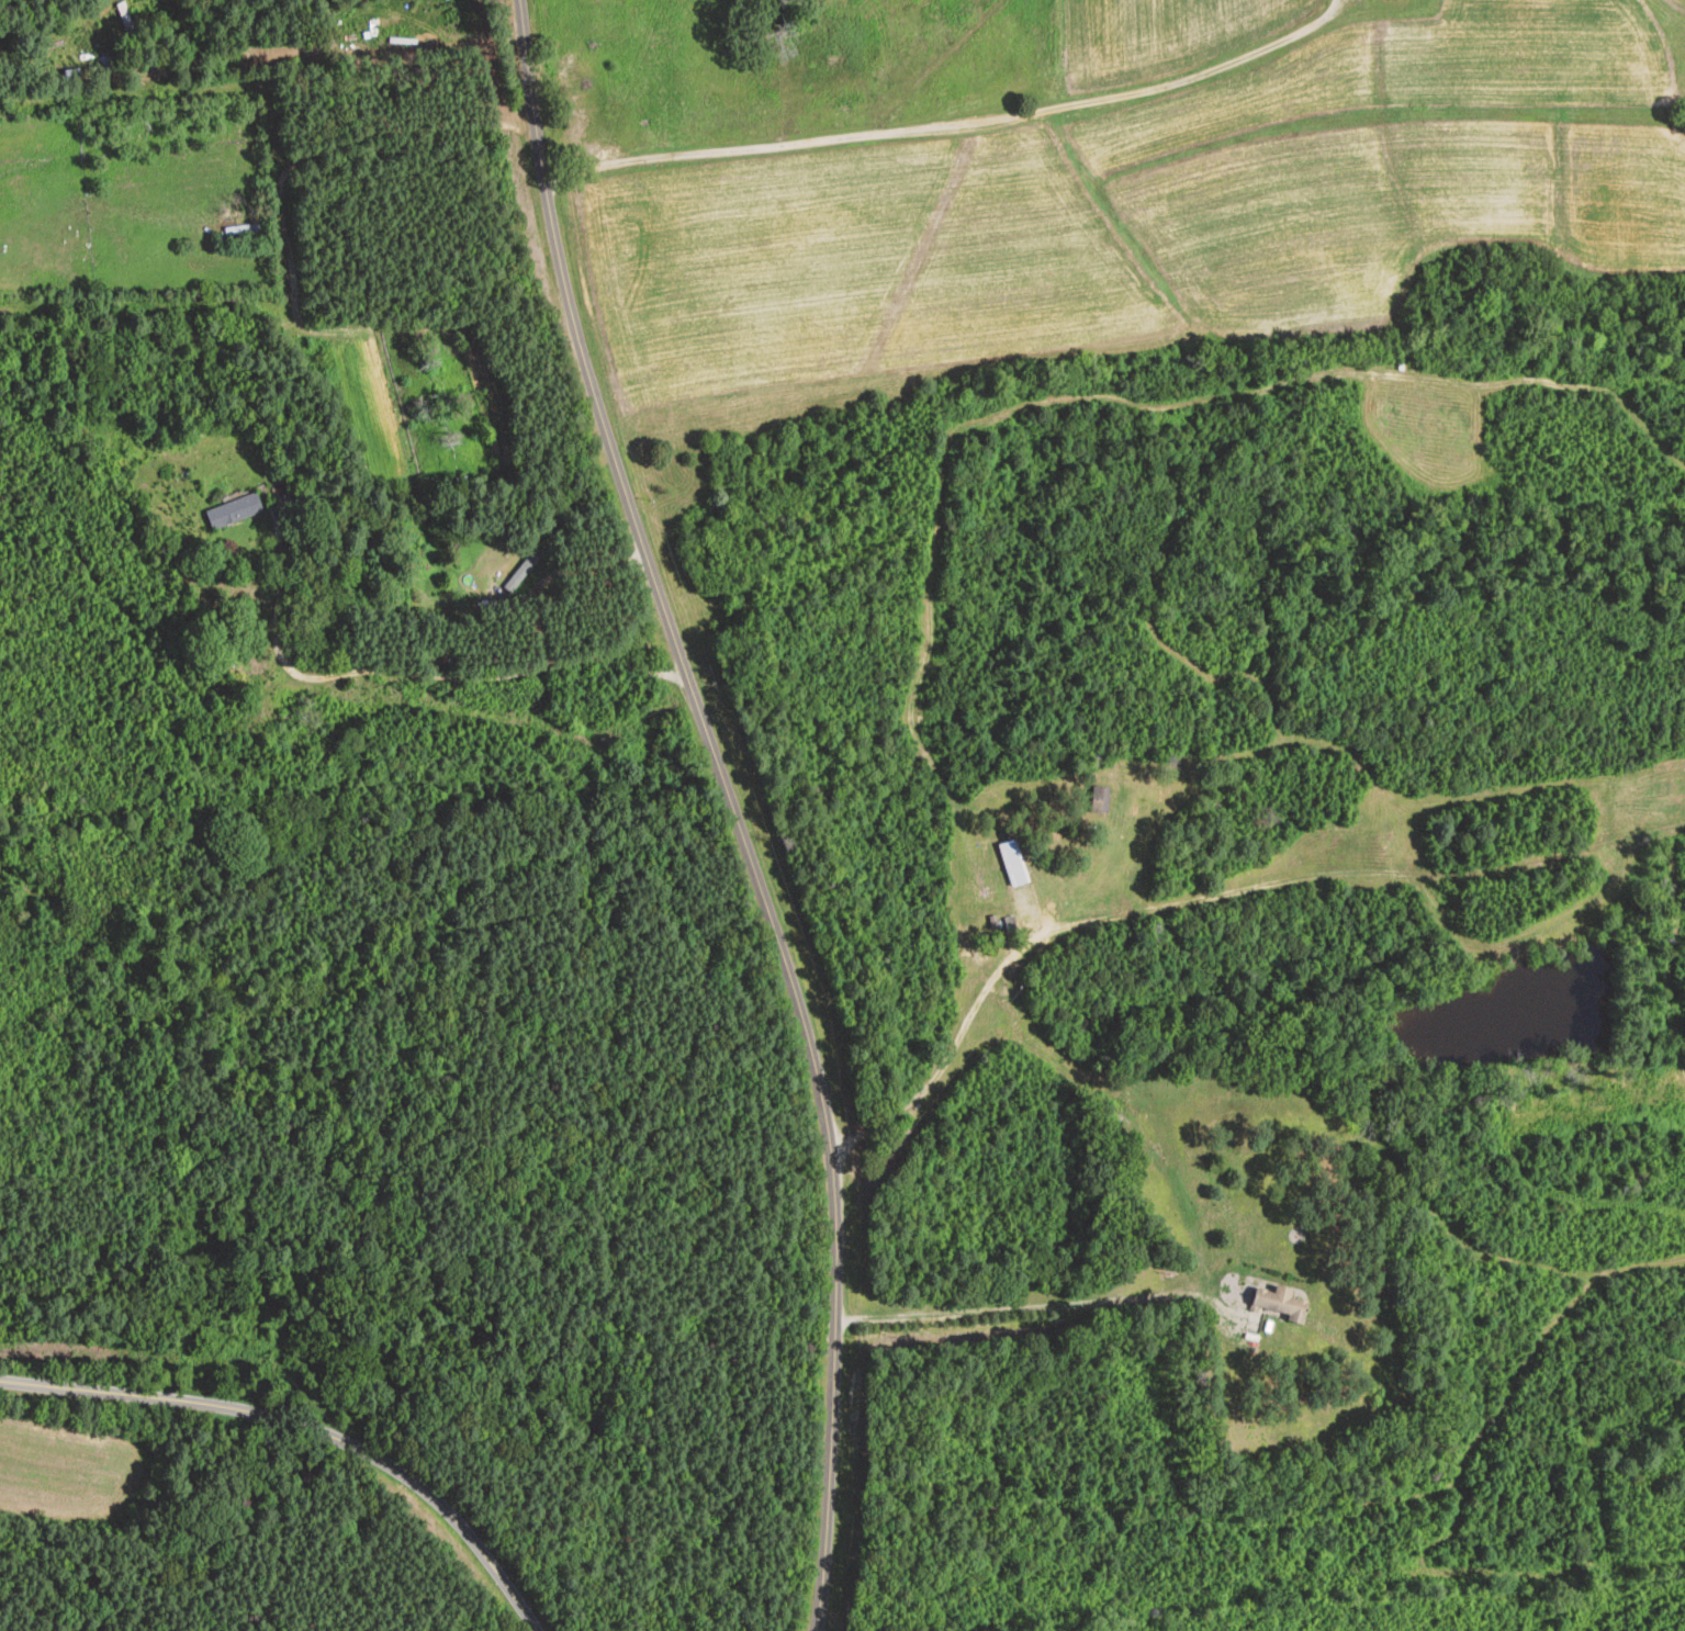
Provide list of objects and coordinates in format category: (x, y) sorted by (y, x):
building: (125, 19)
building: (56, 24)
building: (102, 64)
building: (69, 74)
road: (357, 137)
road: (813, 146)
building: (233, 511)
road: (526, 547)
road: (498, 678)
building: (1098, 800)
road: (749, 803)
road: (970, 830)
building: (1019, 885)
road: (1013, 1026)
building: (1277, 1304)
road: (307, 1428)

